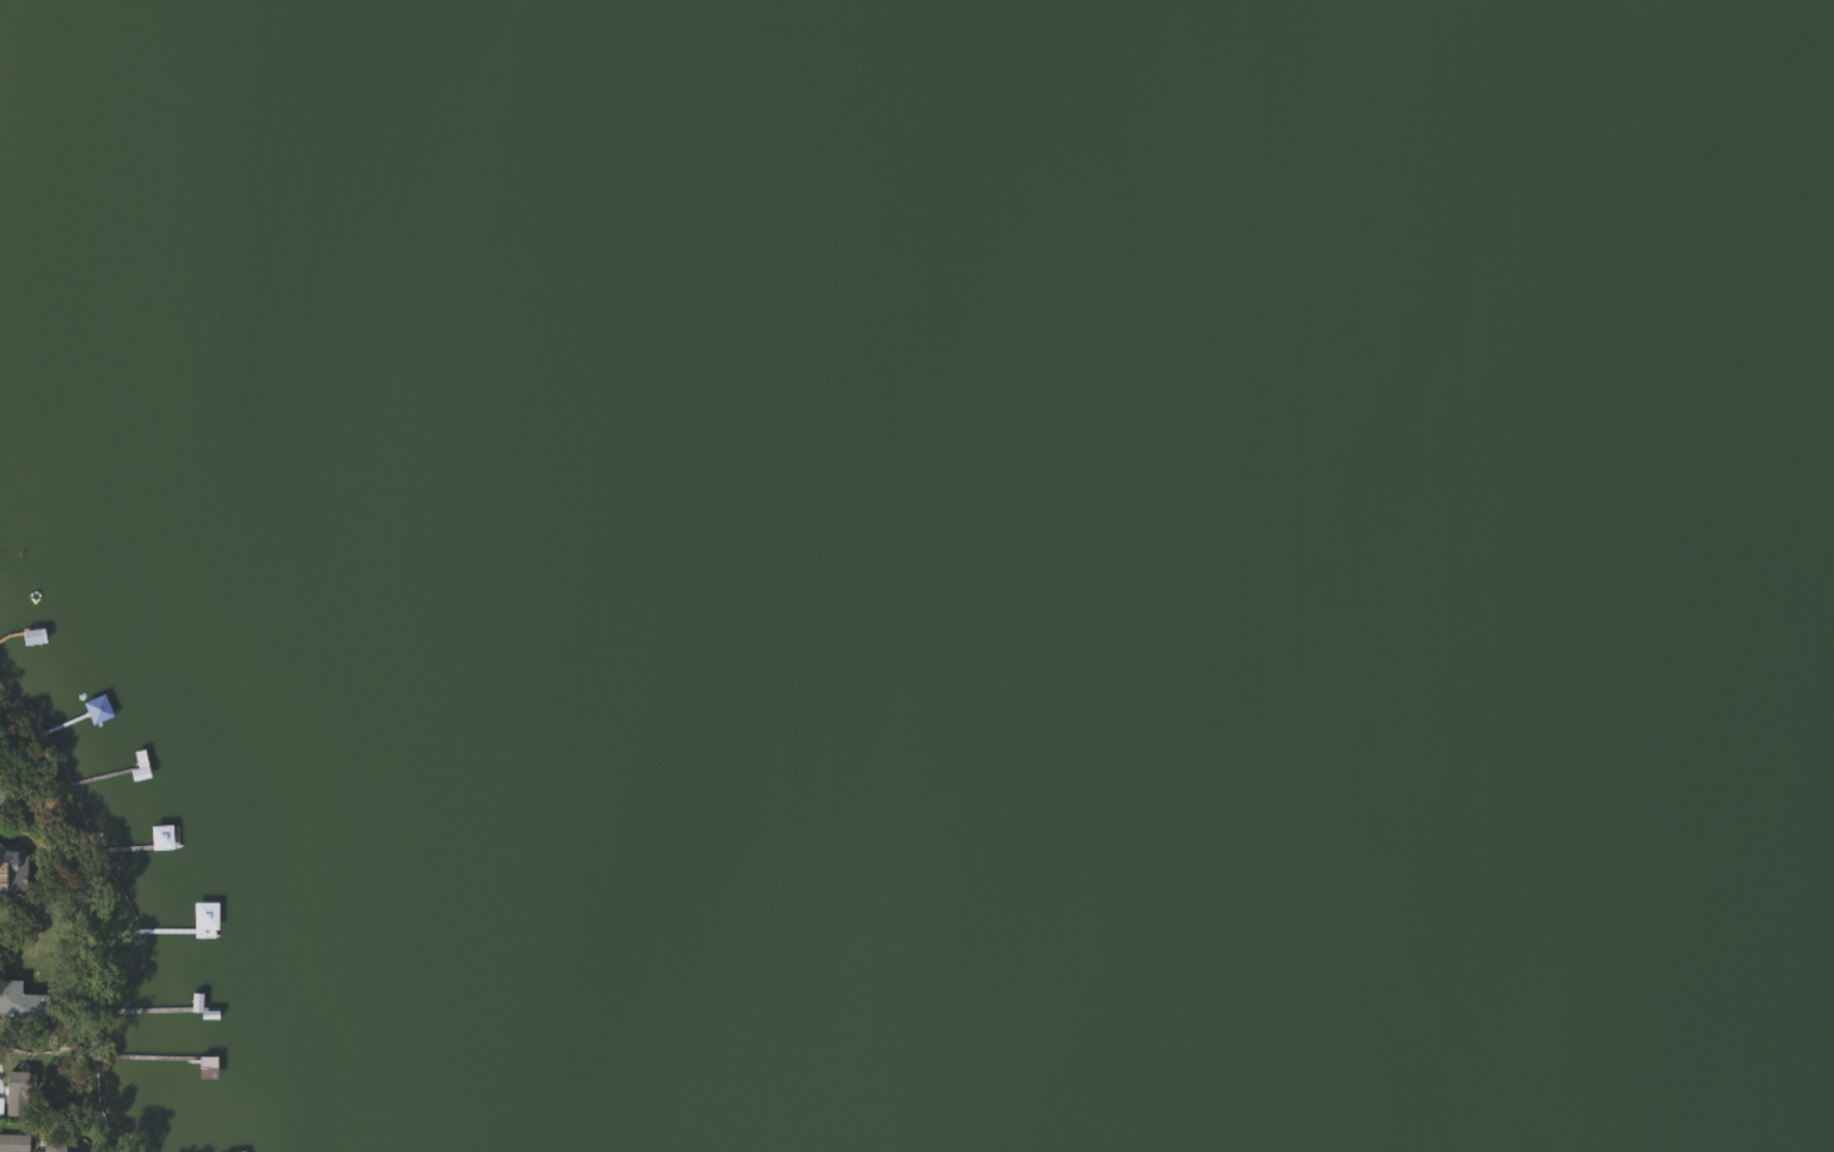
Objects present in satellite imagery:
river: (1470, 595)
building: (160, 838)
building: (12, 871)
building: (203, 917)
building: (20, 1005)
building: (14, 1095)
building: (13, 1144)
building: (48, 1147)

